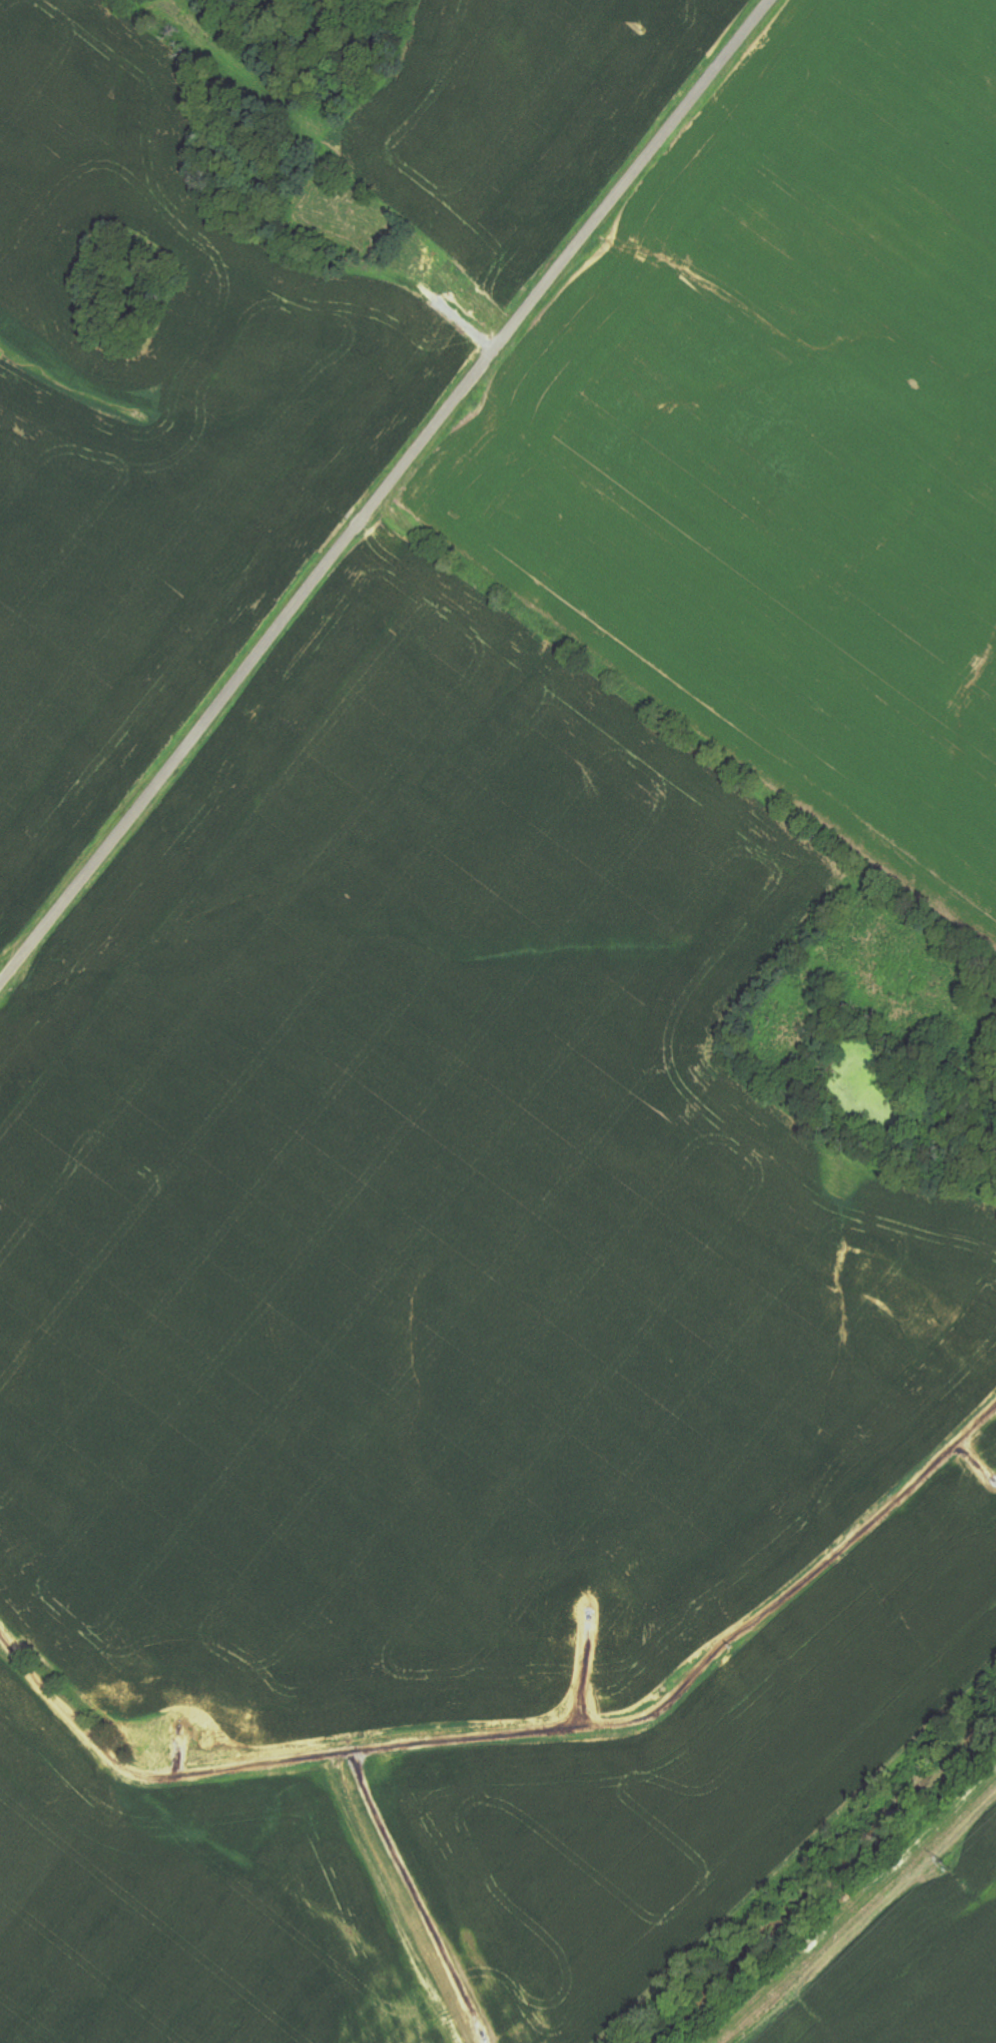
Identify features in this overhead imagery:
road: (384, 492)

